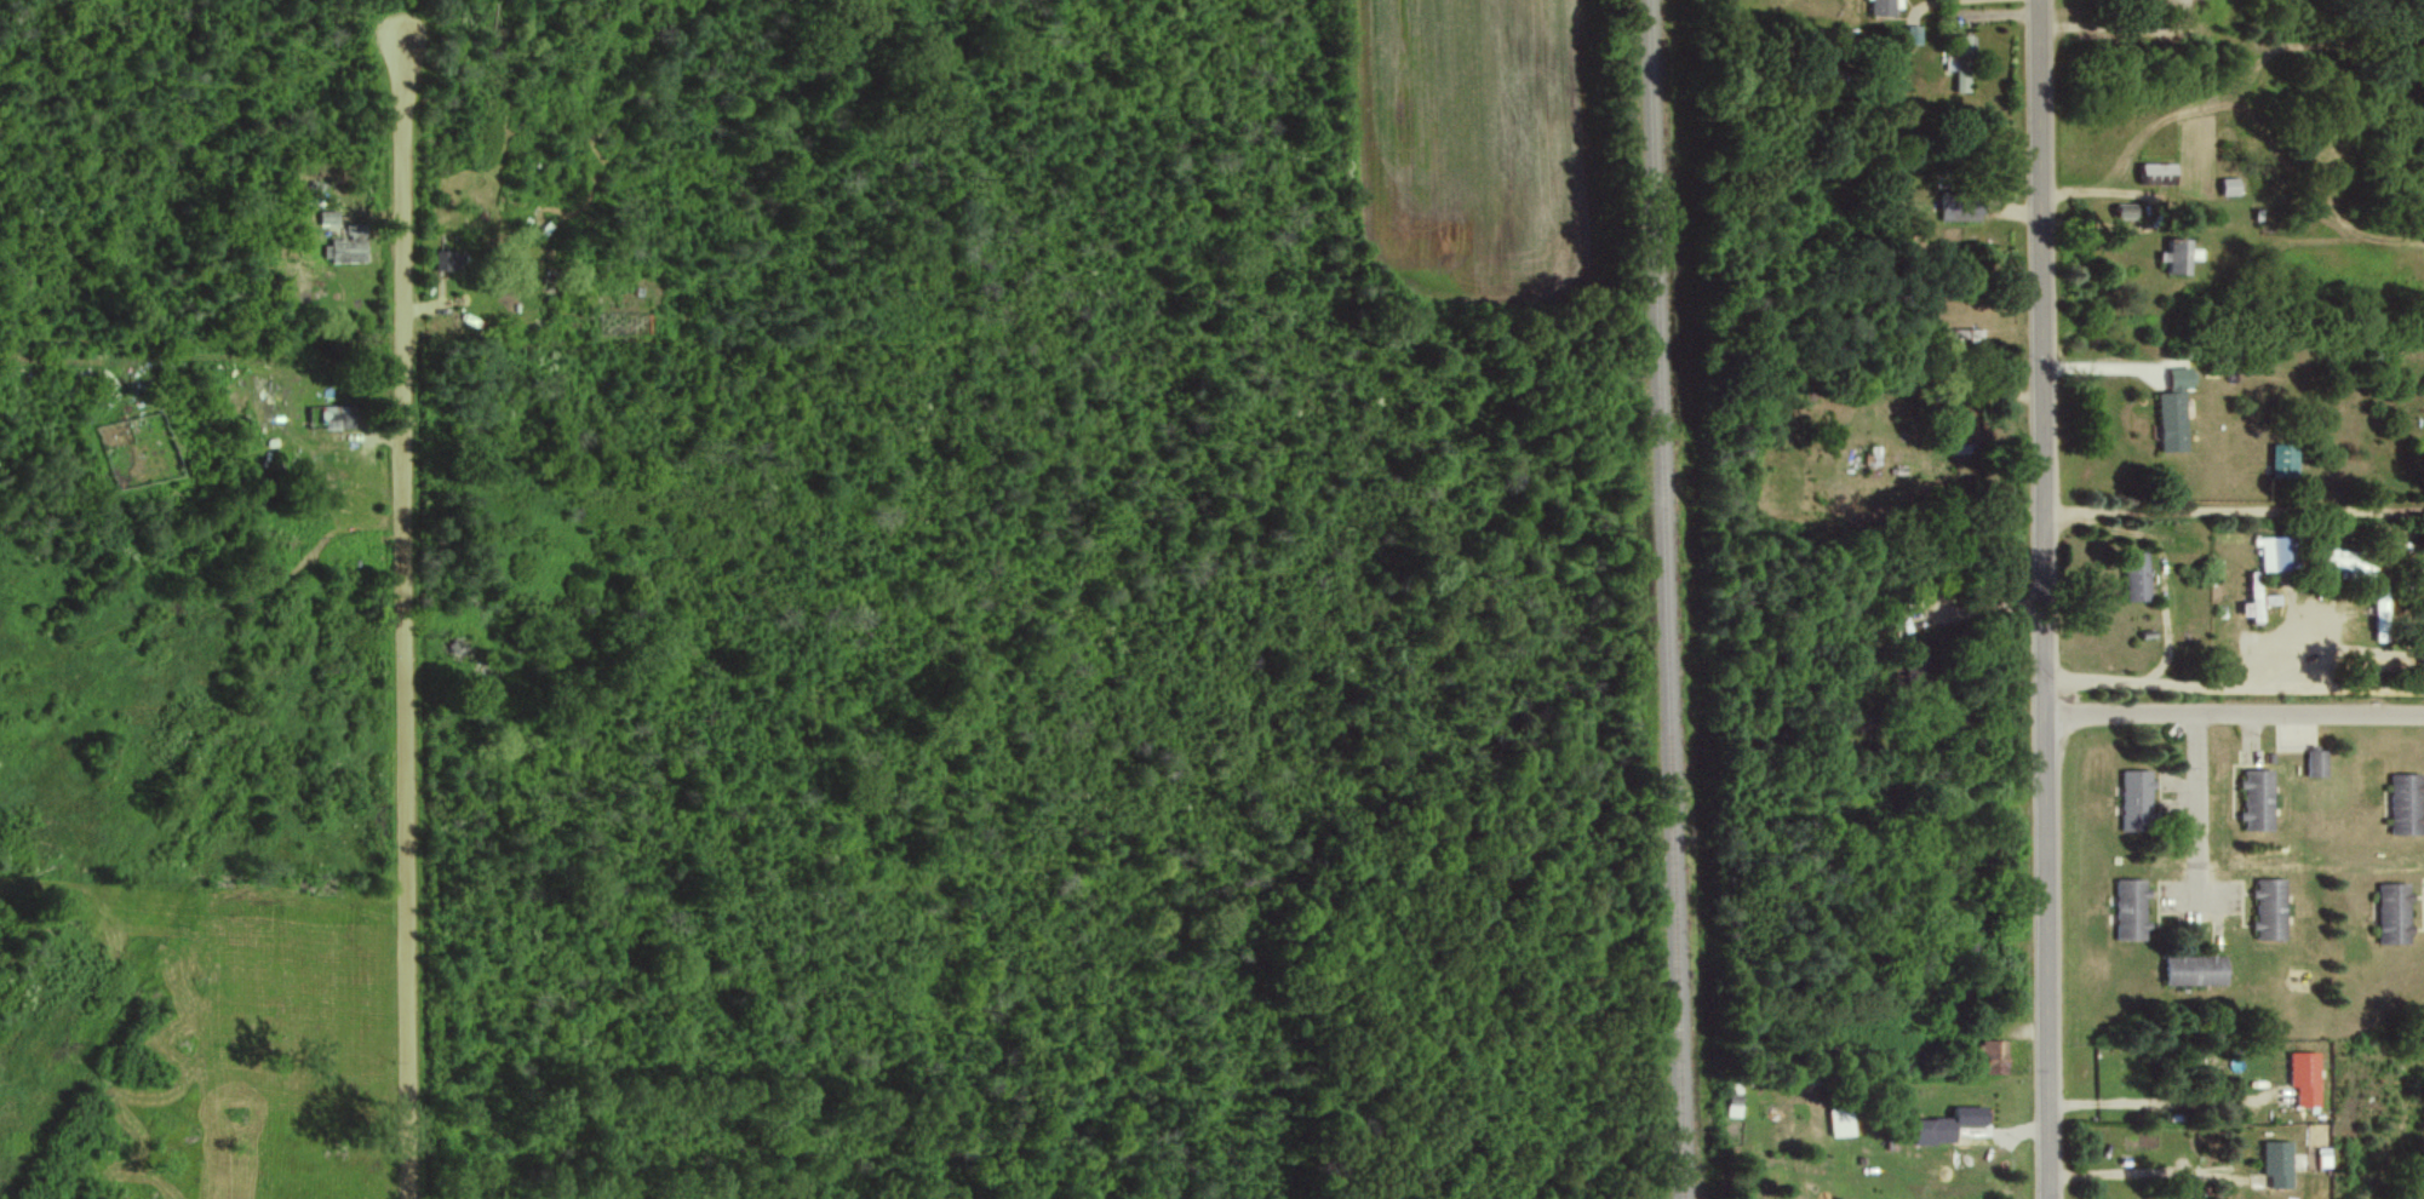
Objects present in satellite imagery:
road: (1912, 0)
building: (1885, 6)
road: (2127, 31)
building: (1914, 34)
building: (1961, 61)
building: (2159, 167)
building: (2230, 185)
road: (2102, 194)
building: (1962, 206)
building: (327, 217)
building: (346, 245)
building: (2178, 256)
building: (446, 259)
road: (2231, 355)
building: (2176, 409)
building: (340, 415)
building: (2285, 459)
road: (2235, 515)
building: (2279, 551)
building: (2350, 560)
building: (2137, 575)
building: (2256, 596)
road: (2047, 598)
railway: (1664, 599)
road: (1977, 607)
road: (405, 623)
road: (2236, 684)
road: (2237, 716)
building: (2317, 762)
building: (2137, 798)
building: (2258, 798)
building: (2407, 802)
road: (2197, 811)
building: (2131, 907)
building: (2271, 907)
building: (2395, 912)
building: (2196, 969)
building: (1996, 1055)
building: (2306, 1075)
building: (1734, 1106)
building: (1840, 1120)
building: (1949, 1123)
building: (2279, 1163)
road: (2156, 1168)

